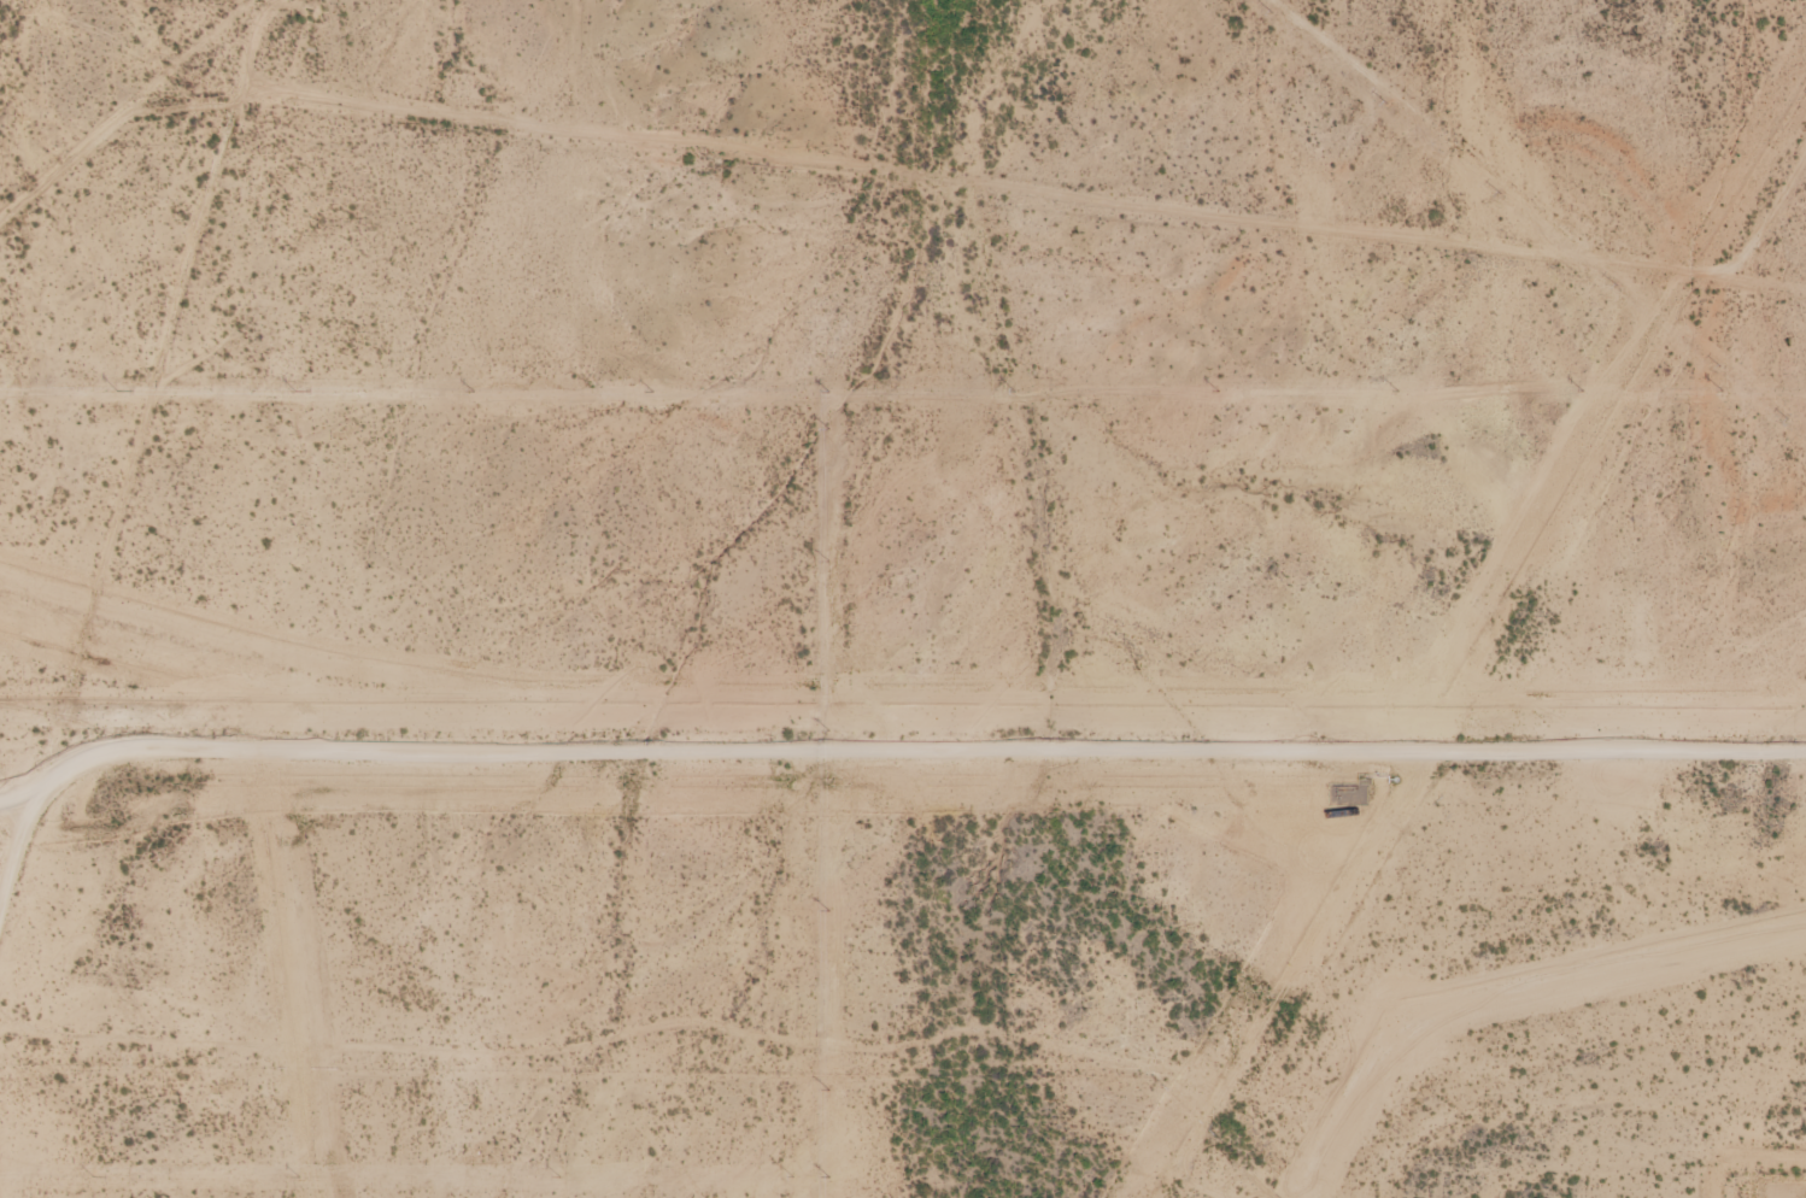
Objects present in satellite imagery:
road: (840, 763)

